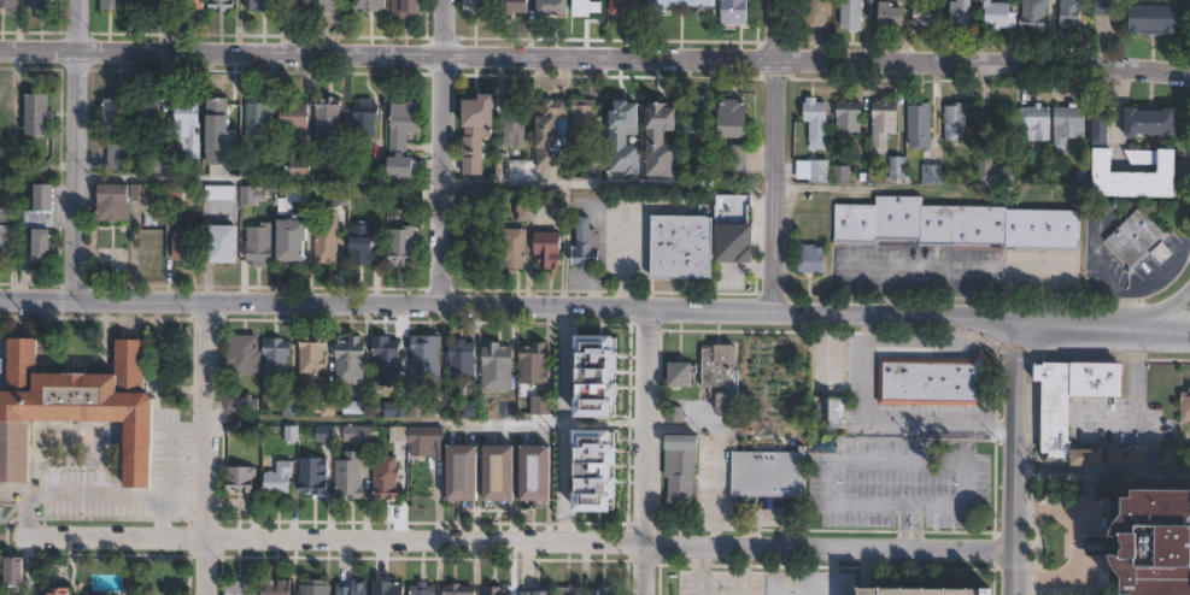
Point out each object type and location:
building: (303, 2)
building: (7, 4)
building: (36, 4)
building: (147, 4)
building: (111, 5)
building: (188, 5)
building: (259, 5)
building: (370, 5)
building: (676, 5)
building: (157, 6)
building: (222, 6)
building: (327, 6)
building: (514, 7)
building: (550, 7)
building: (1102, 7)
building: (626, 8)
building: (405, 10)
building: (475, 10)
building: (586, 10)
building: (734, 12)
building: (817, 12)
building: (1071, 13)
building: (851, 14)
building: (998, 14)
building: (927, 16)
building: (1034, 16)
building: (890, 17)
building: (960, 17)
building: (1149, 23)
road: (594, 58)
building: (36, 114)
building: (582, 116)
building: (696, 116)
building: (257, 117)
building: (291, 117)
building: (328, 117)
building: (365, 118)
building: (733, 120)
building: (848, 120)
building: (920, 122)
building: (1034, 122)
building: (816, 124)
building: (884, 124)
building: (951, 124)
building: (1071, 124)
building: (124, 125)
building: (188, 125)
building: (512, 125)
building: (1147, 126)
building: (1097, 128)
building: (474, 129)
building: (549, 134)
building: (225, 137)
building: (662, 139)
building: (401, 140)
building: (625, 140)
road: (74, 149)
building: (362, 153)
road: (439, 153)
road: (776, 157)
building: (158, 160)
building: (738, 160)
building: (300, 169)
building: (338, 169)
building: (897, 170)
building: (991, 170)
building: (813, 171)
building: (932, 171)
building: (842, 173)
building: (1130, 177)
road: (256, 178)
road: (608, 183)
building: (139, 190)
building: (218, 193)
building: (251, 195)
building: (340, 196)
building: (371, 196)
building: (476, 198)
building: (292, 199)
building: (112, 204)
building: (40, 210)
building: (523, 214)
building: (732, 219)
building: (955, 225)
road: (627, 230)
building: (1133, 237)
building: (148, 240)
building: (291, 240)
building: (5, 242)
building: (259, 243)
building: (326, 243)
building: (400, 243)
building: (222, 245)
building: (363, 245)
building: (585, 246)
building: (40, 248)
building: (512, 248)
building: (681, 248)
building: (184, 249)
parking lot: (1168, 249)
building: (547, 251)
building: (476, 252)
building: (810, 258)
road: (1100, 266)
road: (925, 270)
road: (1145, 285)
road: (219, 304)
road: (1161, 308)
road: (728, 313)
road: (1103, 330)
building: (242, 352)
building: (312, 355)
building: (462, 358)
building: (350, 359)
building: (387, 359)
building: (275, 360)
building: (424, 360)
building: (533, 363)
building: (497, 366)
building: (680, 373)
building: (596, 375)
building: (721, 375)
building: (934, 379)
road: (1132, 402)
building: (242, 405)
building: (356, 406)
building: (1185, 406)
building: (323, 407)
building: (831, 407)
building: (75, 408)
building: (395, 408)
road: (1110, 418)
building: (1056, 419)
road: (428, 420)
road: (892, 424)
road: (559, 426)
building: (324, 434)
building: (358, 434)
building: (398, 434)
building: (428, 438)
road: (206, 448)
road: (649, 453)
road: (714, 453)
building: (1124, 455)
building: (1168, 456)
road: (166, 460)
road: (866, 460)
road: (1014, 461)
building: (598, 467)
building: (680, 467)
building: (461, 471)
road: (1102, 471)
building: (498, 472)
building: (535, 472)
building: (768, 473)
building: (312, 475)
building: (350, 475)
building: (386, 477)
building: (240, 478)
building: (277, 478)
road: (96, 493)
building: (1150, 541)
road: (518, 543)
road: (1078, 546)
building: (11, 571)
road: (789, 572)
road: (834, 573)
building: (276, 587)
building: (240, 588)
building: (315, 588)
building: (352, 588)
building: (385, 589)
building: (458, 589)
building: (422, 590)
building: (497, 590)
building: (538, 590)
building: (569, 590)
building: (605, 590)
building: (918, 590)
parking garage: (918, 590)
building: (57, 591)

